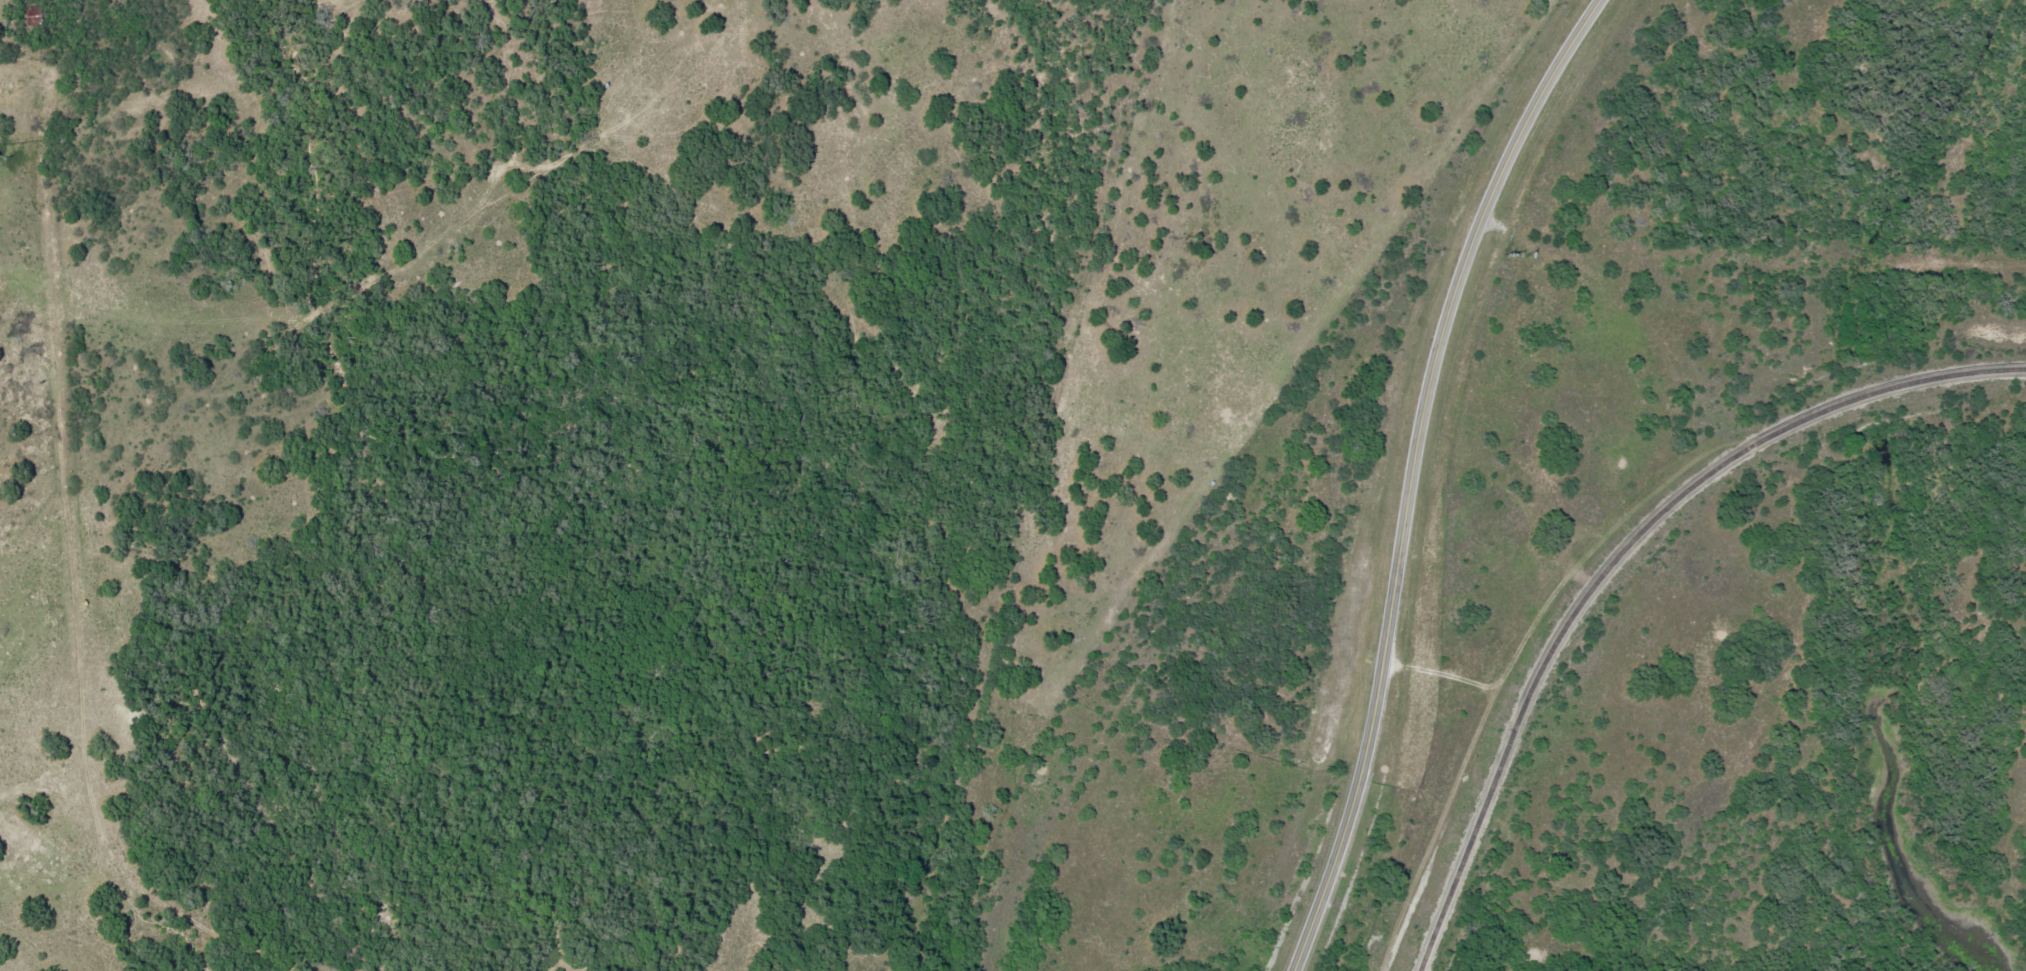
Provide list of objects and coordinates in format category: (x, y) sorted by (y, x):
building: (28, 17)
road: (1412, 472)
power plant: (1737, 509)
railway: (1616, 555)
road: (73, 562)

